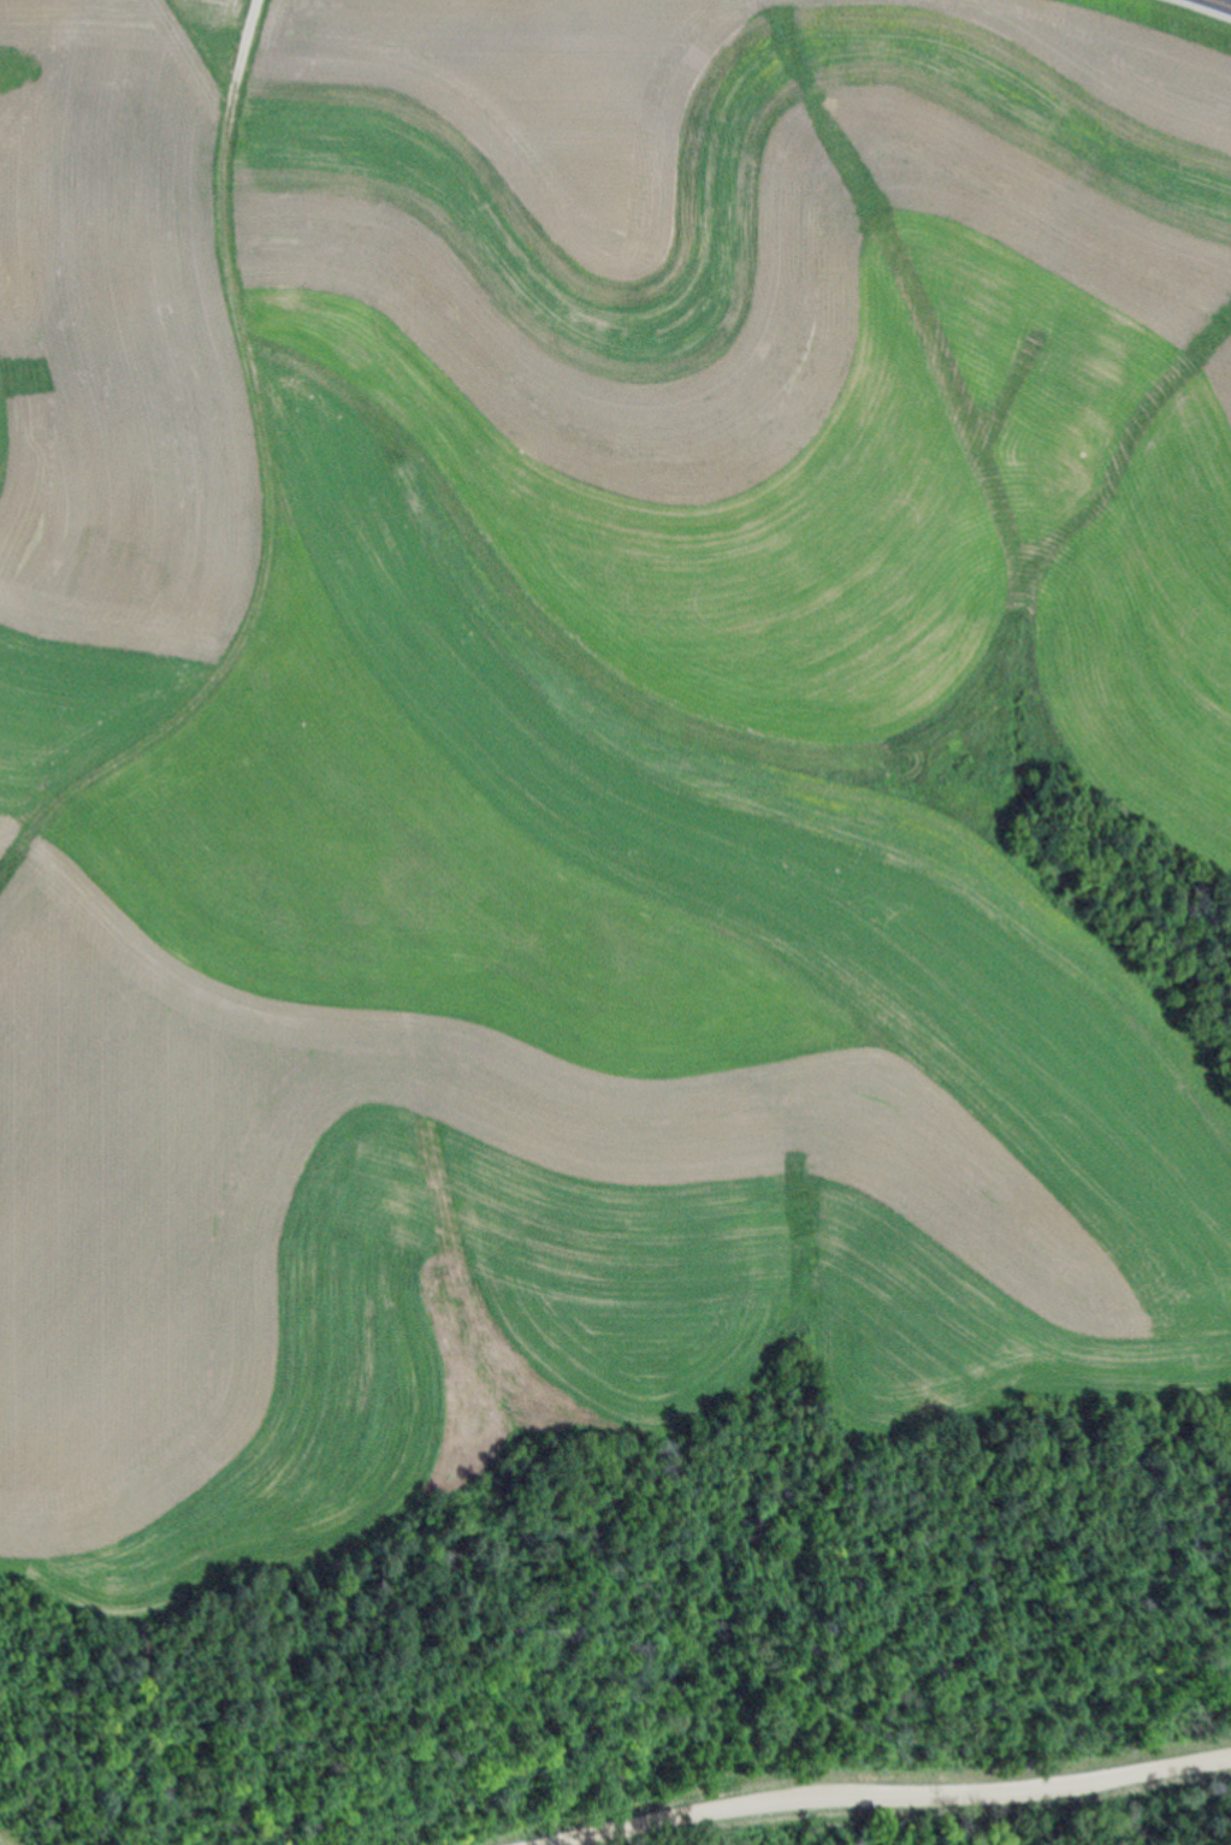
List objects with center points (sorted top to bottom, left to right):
road: (1220, 2)
road: (1038, 568)
road: (892, 1796)

